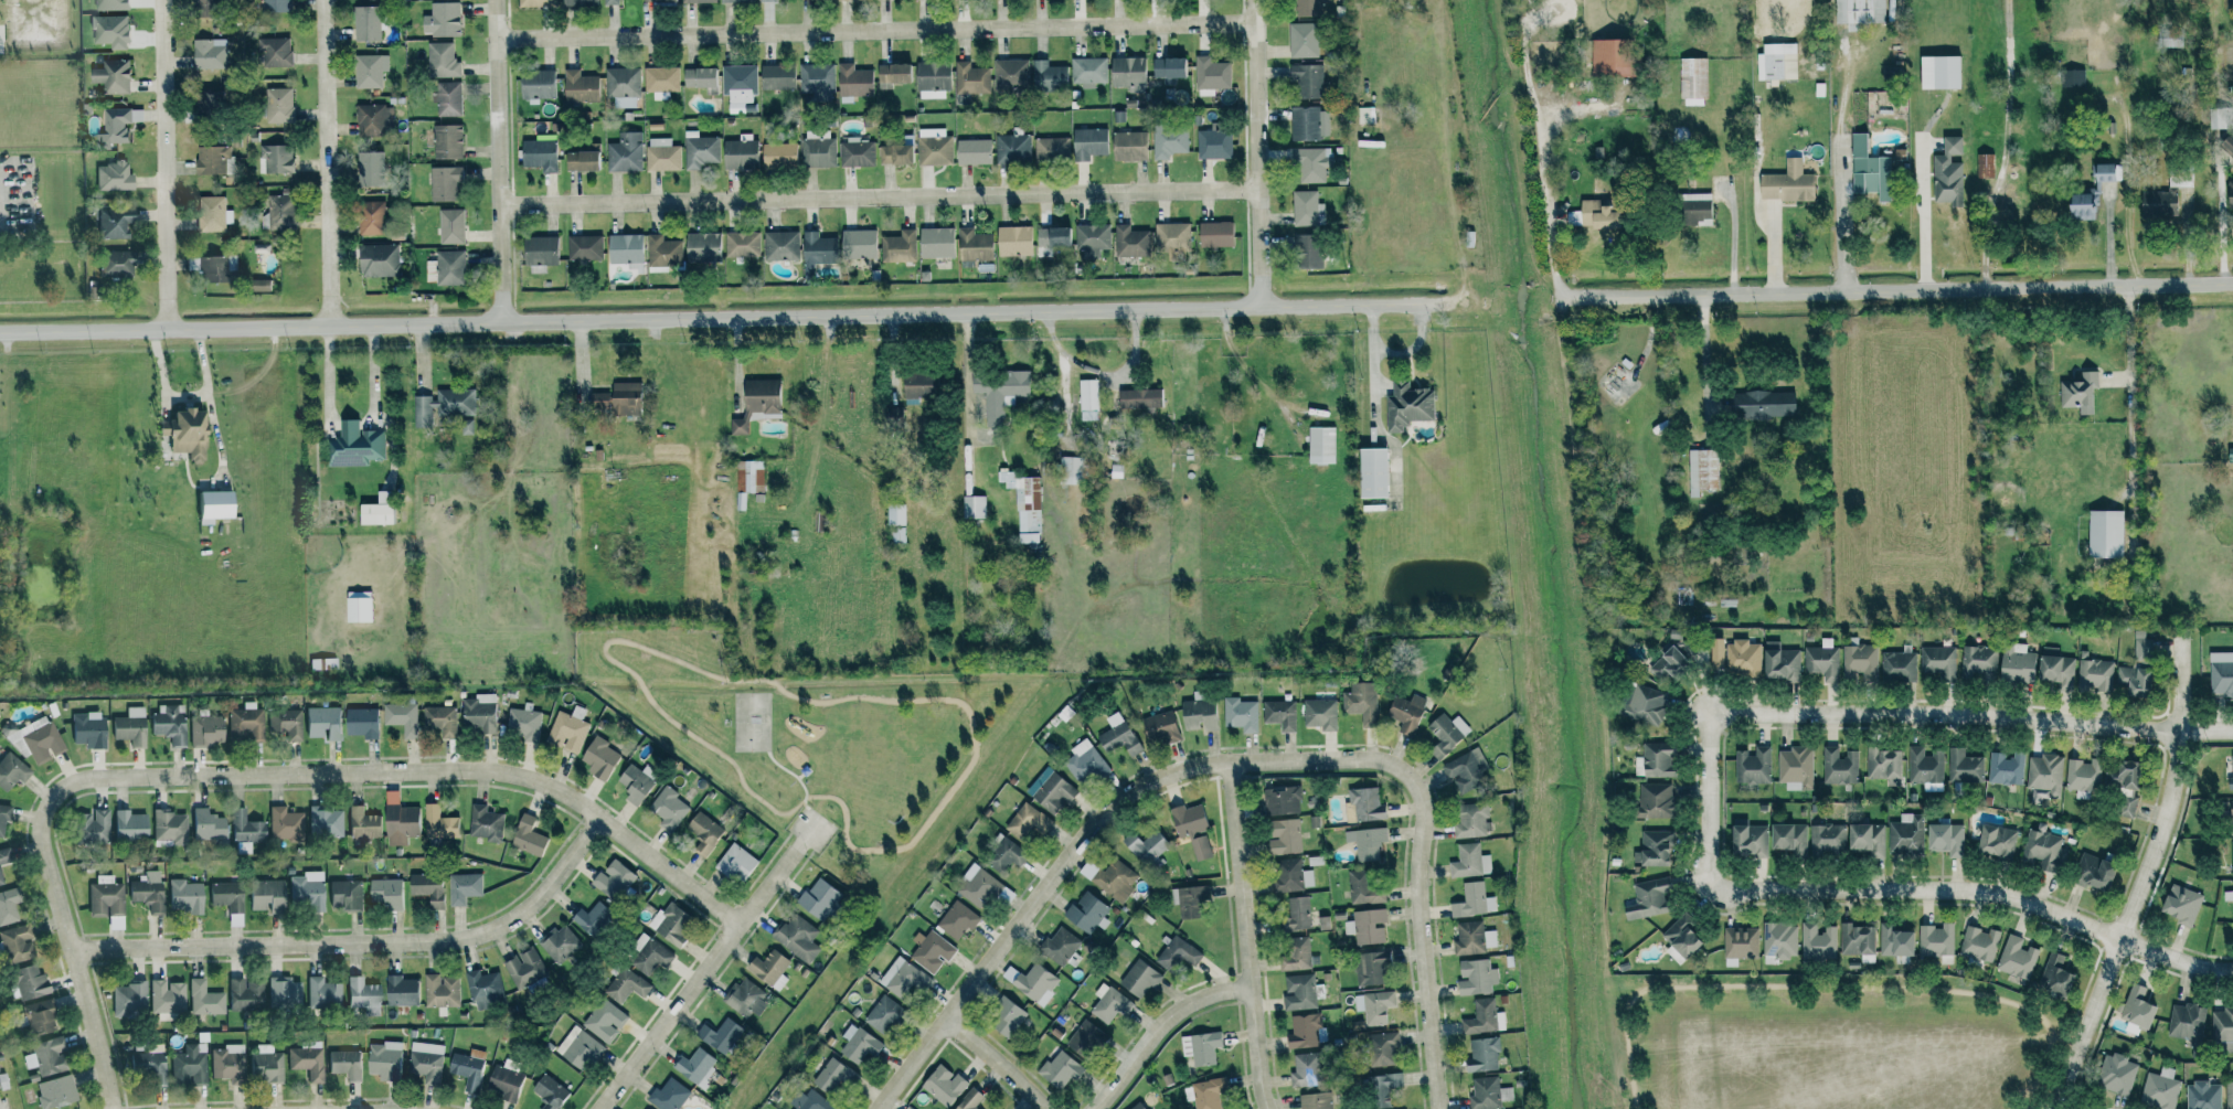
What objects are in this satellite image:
building: (650, 0)
building: (734, 0)
building: (766, 0)
building: (697, 1)
building: (534, 2)
building: (610, 2)
building: (578, 3)
building: (274, 4)
building: (203, 7)
building: (1858, 12)
building: (444, 18)
building: (365, 22)
road: (878, 28)
building: (1304, 30)
building: (274, 51)
building: (208, 54)
building: (1607, 57)
building: (440, 60)
building: (1776, 61)
building: (1167, 68)
building: (369, 70)
building: (1089, 71)
building: (1938, 71)
building: (1127, 72)
building: (892, 73)
building: (1010, 74)
building: (111, 75)
building: (1210, 75)
building: (776, 76)
building: (1048, 76)
building: (700, 77)
building: (816, 77)
building: (1692, 77)
building: (2071, 77)
building: (661, 78)
building: (970, 78)
building: (932, 79)
building: (1307, 79)
building: (738, 83)
building: (852, 83)
building: (536, 84)
building: (579, 86)
building: (623, 86)
building: (206, 98)
building: (447, 98)
building: (277, 105)
building: (1367, 115)
building: (370, 119)
building: (118, 122)
building: (1305, 122)
building: (446, 140)
building: (1168, 140)
building: (1088, 142)
building: (1128, 146)
building: (2227, 147)
building: (817, 148)
building: (1012, 148)
building: (1051, 148)
building: (700, 149)
building: (934, 149)
building: (972, 150)
building: (855, 151)
building: (625, 152)
building: (740, 152)
building: (896, 152)
building: (538, 153)
building: (662, 153)
building: (777, 153)
road: (1256, 153)
building: (210, 158)
building: (274, 158)
building: (581, 159)
road: (327, 162)
road: (164, 163)
building: (1309, 164)
building: (1985, 164)
building: (370, 168)
building: (1870, 170)
road: (503, 171)
building: (1947, 172)
road: (2125, 173)
building: (111, 175)
road: (1544, 175)
building: (2179, 178)
building: (445, 183)
building: (1787, 183)
building: (2092, 192)
road: (881, 195)
building: (2230, 195)
building: (2158, 203)
building: (1693, 207)
road: (1923, 207)
building: (1307, 209)
building: (278, 212)
building: (213, 213)
building: (1598, 214)
building: (370, 217)
building: (113, 222)
building: (450, 225)
building: (1214, 234)
building: (1056, 235)
building: (1171, 236)
road: (2223, 236)
road: (2107, 237)
building: (1092, 238)
road: (1843, 239)
building: (1013, 241)
building: (1130, 241)
building: (935, 242)
building: (857, 243)
building: (741, 244)
building: (780, 245)
building: (974, 245)
building: (584, 247)
building: (702, 247)
building: (624, 248)
building: (540, 249)
building: (816, 249)
building: (1307, 250)
building: (662, 253)
building: (376, 259)
building: (110, 265)
building: (449, 267)
building: (216, 268)
building: (429, 270)
building: (259, 285)
road: (1892, 289)
road: (723, 317)
road: (1412, 348)
road: (1703, 350)
road: (1372, 372)
building: (917, 385)
building: (998, 391)
building: (2078, 392)
road: (2128, 395)
building: (624, 397)
building: (1139, 398)
building: (597, 399)
building: (1087, 399)
building: (755, 402)
building: (1762, 404)
building: (442, 405)
building: (1407, 405)
building: (893, 413)
road: (351, 424)
building: (466, 427)
building: (183, 431)
building: (1321, 444)
building: (354, 445)
building: (1070, 469)
building: (1702, 471)
building: (1371, 472)
building: (749, 476)
building: (741, 501)
building: (1024, 504)
building: (210, 505)
building: (974, 506)
building: (376, 509)
building: (895, 514)
building: (2105, 533)
building: (896, 535)
building: (357, 606)
building: (2144, 644)
building: (1715, 653)
building: (1741, 658)
building: (1822, 660)
building: (1938, 661)
building: (1978, 661)
building: (1779, 662)
building: (1860, 662)
building: (2016, 662)
building: (321, 663)
building: (1666, 664)
building: (1899, 664)
building: (2055, 668)
building: (2221, 673)
building: (2094, 674)
building: (2134, 680)
road: (796, 697)
building: (1360, 699)
building: (1640, 704)
building: (479, 712)
building: (1406, 712)
building: (1199, 713)
building: (1241, 714)
building: (1280, 714)
building: (1320, 714)
road: (1973, 716)
building: (402, 717)
building: (440, 719)
building: (360, 722)
park: (752, 722)
building: (168, 723)
building: (244, 723)
building: (285, 723)
building: (320, 723)
building: (523, 723)
building: (129, 726)
building: (1161, 727)
building: (86, 728)
building: (203, 729)
building: (568, 729)
building: (1447, 734)
building: (1117, 735)
building: (40, 742)
park: (828, 746)
building: (598, 758)
building: (1657, 759)
building: (1085, 763)
road: (1232, 763)
building: (1884, 765)
building: (1754, 766)
building: (1840, 766)
building: (1924, 766)
building: (1964, 766)
building: (1796, 767)
building: (2006, 768)
building: (11, 770)
building: (1466, 770)
building: (2231, 771)
building: (2045, 774)
road: (254, 775)
road: (800, 775)
building: (2083, 775)
building: (2124, 775)
road: (795, 776)
building: (635, 783)
building: (1052, 793)
building: (1654, 800)
building: (1282, 801)
building: (1365, 803)
road: (1706, 804)
building: (668, 807)
building: (2126, 807)
building: (1349, 812)
building: (3, 815)
building: (2231, 818)
building: (397, 820)
building: (1471, 820)
building: (323, 821)
building: (284, 823)
building: (438, 823)
building: (485, 823)
building: (1028, 823)
building: (361, 824)
building: (127, 825)
building: (204, 825)
building: (89, 827)
building: (243, 827)
building: (1188, 828)
parking lot: (811, 829)
road: (811, 829)
building: (703, 833)
building: (1906, 834)
building: (528, 836)
building: (1284, 836)
building: (1788, 838)
building: (1827, 838)
building: (1945, 838)
building: (1747, 839)
building: (1868, 839)
building: (1996, 841)
building: (1365, 842)
building: (1145, 846)
building: (1655, 847)
building: (2044, 851)
building: (1004, 855)
building: (4, 856)
building: (2231, 857)
building: (1470, 861)
building: (736, 862)
building: (2093, 872)
road: (2144, 874)
building: (1287, 875)
building: (1307, 877)
building: (613, 879)
building: (1115, 879)
building: (0, 881)
road: (769, 882)
building: (978, 886)
building: (426, 887)
building: (462, 887)
building: (1364, 888)
building: (306, 891)
building: (386, 892)
road: (1980, 893)
building: (145, 894)
building: (264, 894)
building: (345, 894)
building: (1007, 894)
building: (224, 895)
building: (2227, 895)
building: (182, 896)
building: (1648, 898)
building: (819, 899)
building: (1189, 899)
building: (106, 900)
building: (1474, 900)
building: (2181, 905)
building: (8, 906)
building: (1086, 913)
building: (1296, 915)
building: (592, 918)
building: (958, 919)
building: (670, 924)
building: (1367, 926)
road: (1243, 936)
building: (797, 937)
building: (1472, 938)
building: (1935, 939)
building: (1680, 940)
building: (1779, 940)
building: (1857, 940)
building: (1894, 940)
road: (361, 942)
building: (1741, 942)
building: (560, 943)
building: (1818, 943)
building: (1979, 943)
building: (12, 945)
building: (1059, 946)
building: (932, 950)
building: (1295, 952)
building: (1178, 953)
building: (649, 955)
building: (2016, 960)
building: (524, 968)
building: (1370, 968)
building: (769, 969)
building: (2054, 975)
building: (1476, 977)
building: (1139, 978)
building: (903, 979)
building: (24, 981)
building: (1036, 983)
building: (626, 985)
road: (2086, 985)
building: (483, 989)
road: (1830, 989)
building: (440, 990)
building: (401, 991)
building: (1296, 992)
building: (283, 993)
building: (322, 993)
building: (244, 994)
building: (362, 994)
building: (166, 996)
building: (745, 998)
building: (128, 999)
building: (203, 999)
building: (1109, 1003)
building: (1374, 1006)
building: (2137, 1010)
building: (883, 1014)
building: (1012, 1015)
building: (38, 1016)
road: (669, 1016)
building: (1484, 1017)
building: (604, 1020)
building: (2187, 1021)
road: (1157, 1028)
building: (2222, 1030)
building: (1304, 1031)
building: (720, 1035)
park: (1830, 1042)
building: (858, 1045)
building: (577, 1047)
building: (1201, 1047)
building: (1382, 1048)
building: (1482, 1055)
building: (307, 1059)
building: (384, 1059)
road: (996, 1060)
building: (426, 1062)
building: (226, 1063)
building: (344, 1063)
building: (265, 1064)
building: (148, 1066)
building: (188, 1066)
building: (697, 1066)
building: (468, 1068)
building: (1304, 1069)
building: (49, 1070)
building: (1059, 1070)
building: (2116, 1074)
building: (832, 1076)
building: (503, 1083)
building: (944, 1085)
building: (1382, 1088)
building: (2160, 1089)
building: (549, 1091)
building: (1205, 1094)
building: (1485, 1094)
building: (668, 1095)
building: (2229, 1095)
building: (2203, 1096)
building: (969, 1099)
building: (1315, 1100)
building: (808, 1101)
road: (2033, 1105)
building: (1138, 1106)
building: (645, 1108)

